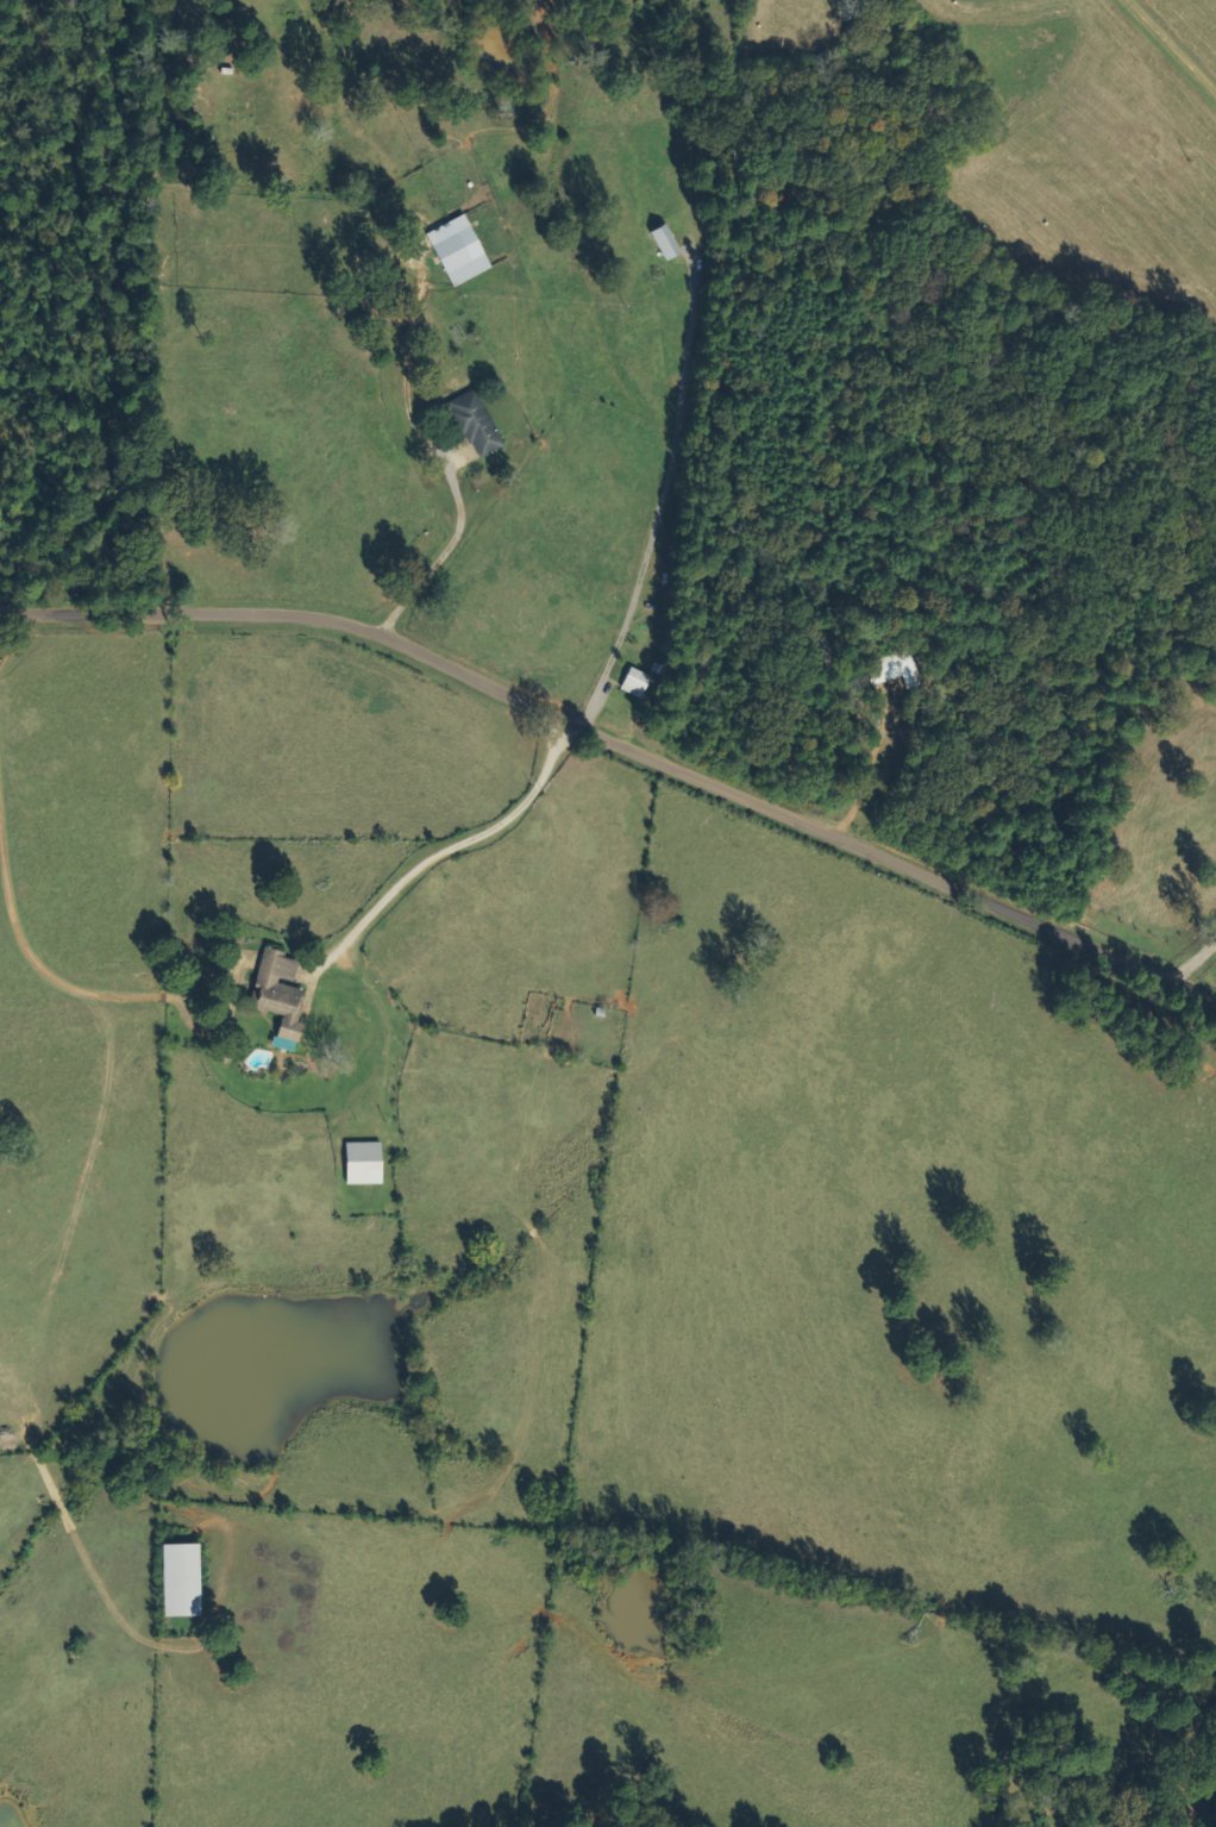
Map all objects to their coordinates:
building: (667, 242)
building: (460, 251)
building: (479, 424)
building: (641, 683)
road: (622, 747)
road: (465, 841)
building: (283, 996)
building: (365, 1164)
building: (193, 1581)

